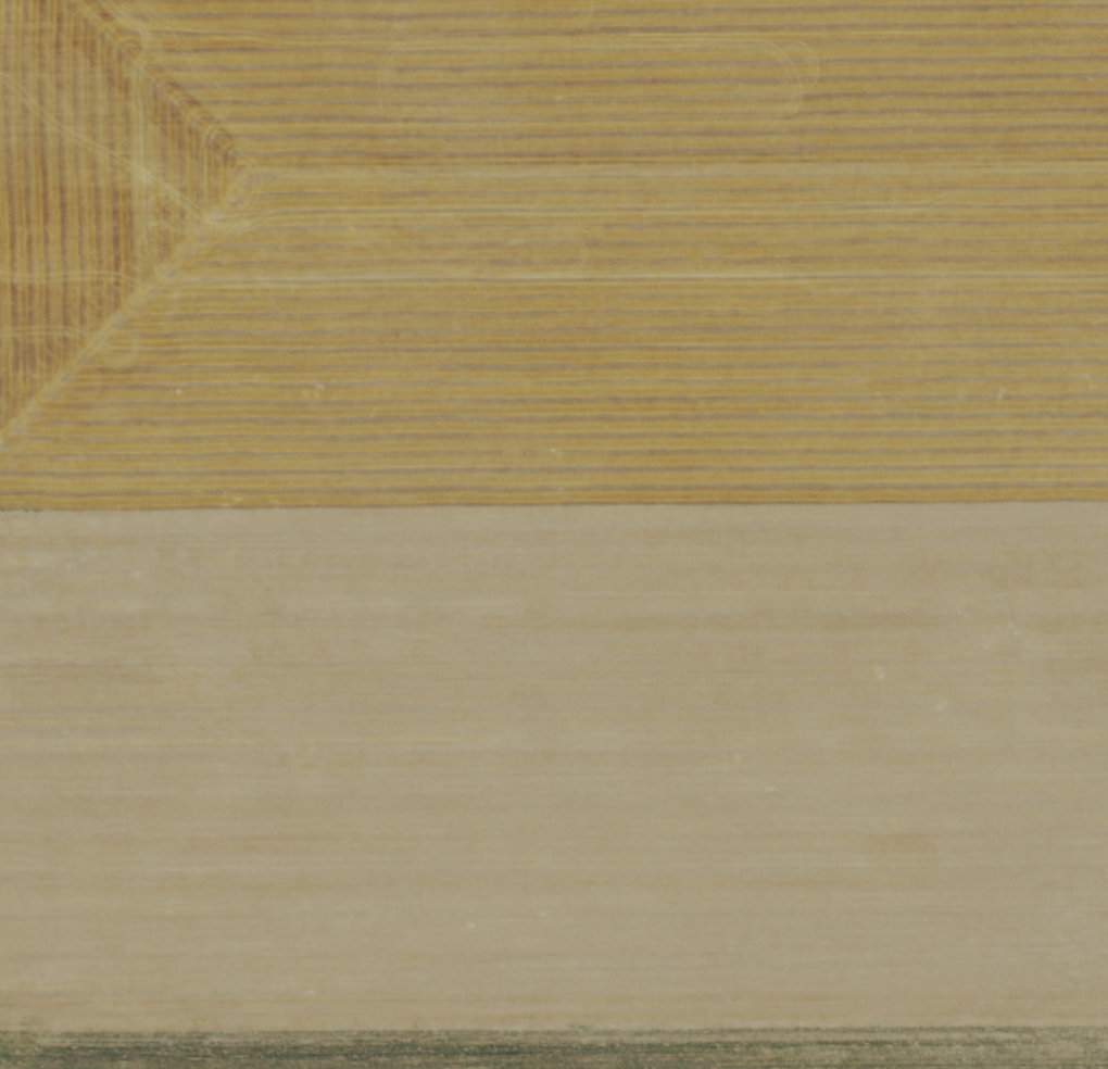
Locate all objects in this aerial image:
crop: (568, 1048)

